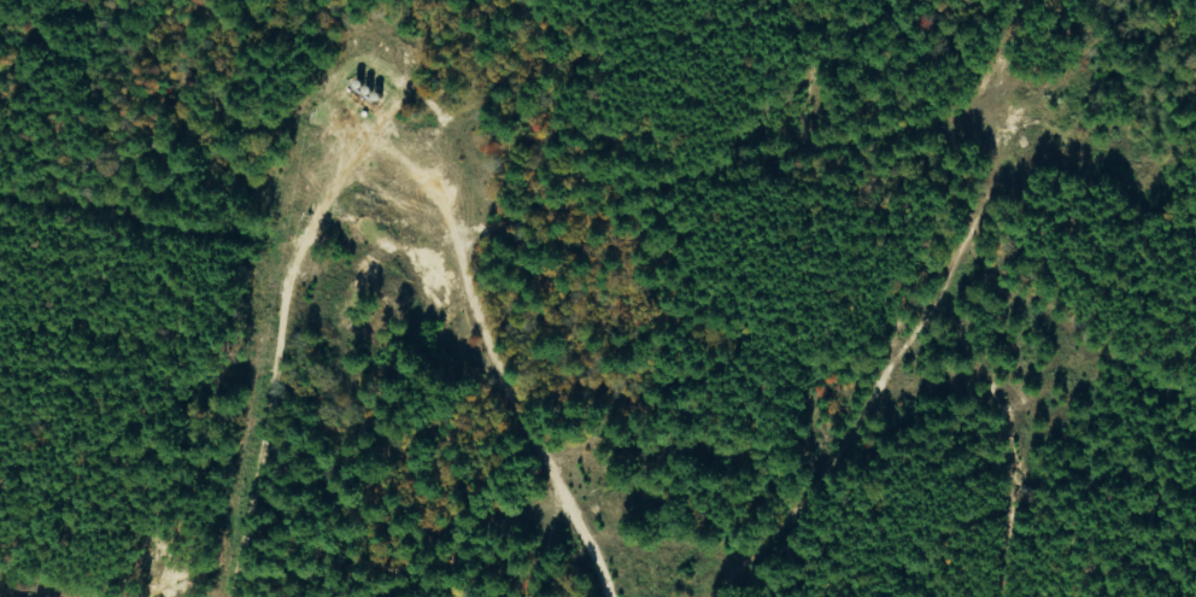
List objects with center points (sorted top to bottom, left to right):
road: (461, 270)

